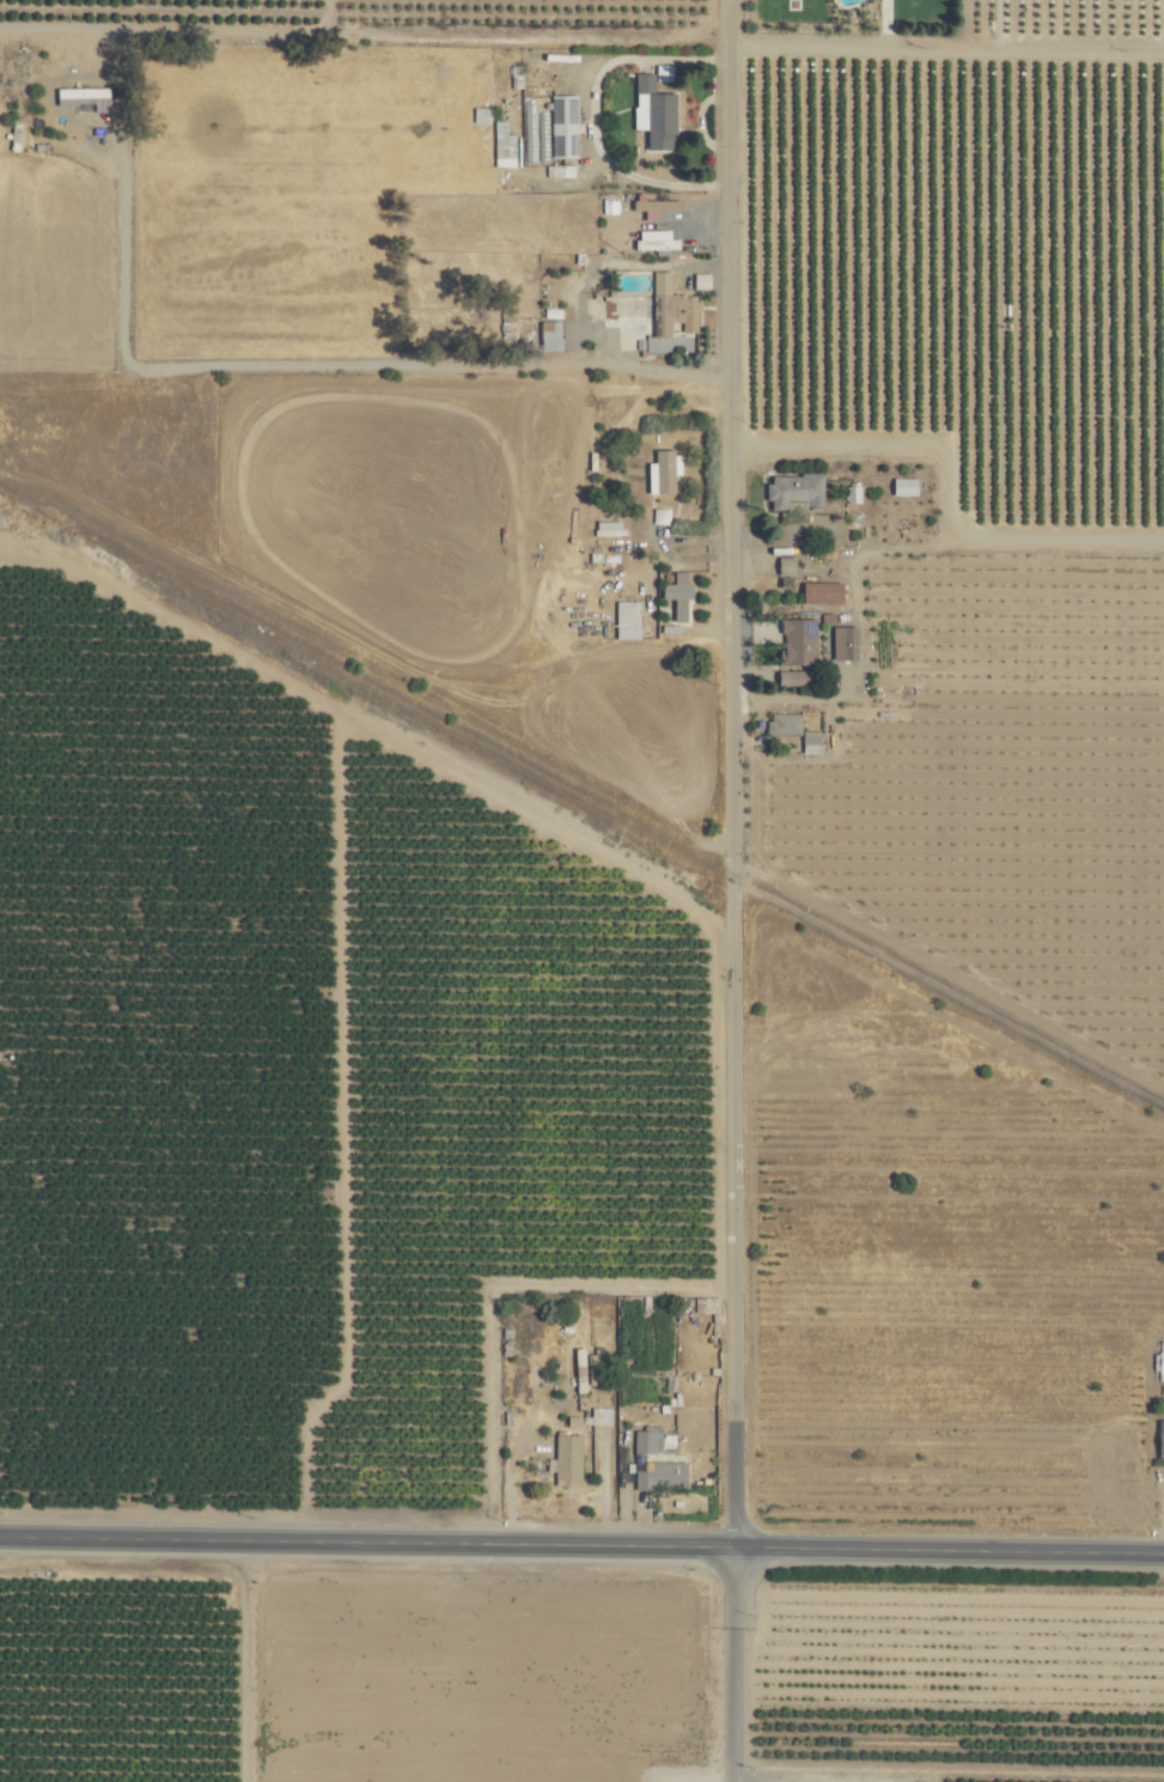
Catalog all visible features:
road: (947, 44)
building: (662, 74)
building: (83, 98)
building: (652, 114)
road: (593, 117)
building: (562, 126)
building: (654, 206)
building: (654, 241)
building: (701, 280)
building: (672, 318)
building: (548, 336)
road: (309, 361)
building: (663, 473)
building: (903, 487)
building: (793, 491)
building: (852, 494)
building: (608, 528)
building: (785, 566)
building: (821, 592)
building: (676, 594)
building: (626, 620)
building: (798, 640)
building: (843, 643)
building: (793, 677)
building: (782, 724)
building: (810, 742)
road: (732, 772)
crop: (581, 890)
road: (490, 1294)
building: (1159, 1357)
building: (579, 1370)
building: (599, 1417)
building: (1160, 1439)
building: (651, 1441)
building: (566, 1460)
building: (660, 1476)
road: (581, 1544)
road: (735, 1664)

